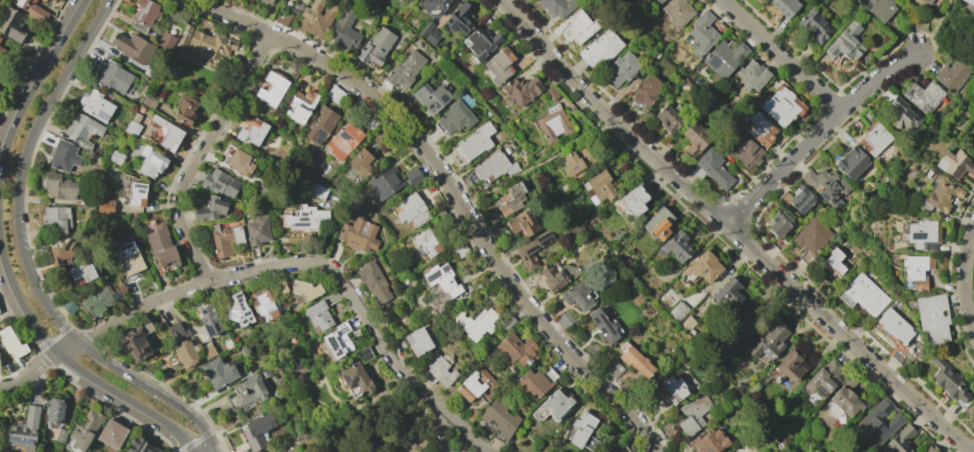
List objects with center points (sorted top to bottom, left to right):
building: (43, 0)
building: (280, 0)
building: (264, 1)
building: (659, 1)
building: (926, 1)
building: (966, 4)
building: (432, 6)
building: (557, 6)
building: (785, 6)
building: (879, 8)
building: (31, 9)
building: (677, 11)
building: (144, 14)
building: (282, 17)
building: (316, 17)
building: (459, 18)
building: (814, 24)
building: (11, 25)
road: (247, 25)
building: (919, 25)
building: (580, 26)
building: (424, 28)
building: (344, 29)
building: (701, 32)
building: (432, 36)
building: (0, 38)
building: (165, 40)
building: (481, 42)
building: (845, 42)
building: (204, 43)
building: (375, 46)
building: (133, 47)
building: (599, 48)
building: (1, 51)
building: (724, 57)
road: (780, 57)
building: (499, 65)
building: (621, 68)
building: (403, 70)
building: (953, 74)
building: (752, 75)
building: (114, 76)
building: (0, 81)
road: (37, 81)
building: (271, 88)
building: (521, 89)
building: (645, 89)
building: (552, 93)
building: (334, 94)
building: (923, 96)
building: (431, 97)
building: (149, 101)
building: (302, 105)
building: (781, 105)
building: (95, 106)
building: (185, 109)
building: (901, 113)
building: (457, 114)
building: (866, 115)
building: (669, 117)
road: (220, 119)
building: (320, 123)
building: (553, 123)
building: (132, 124)
building: (370, 125)
building: (757, 126)
building: (82, 129)
building: (251, 130)
building: (167, 134)
road: (819, 135)
building: (379, 136)
building: (844, 137)
building: (694, 138)
building: (874, 139)
building: (344, 140)
building: (473, 142)
building: (745, 151)
building: (63, 156)
road: (550, 156)
building: (115, 157)
building: (151, 162)
building: (239, 162)
building: (360, 162)
building: (852, 162)
building: (953, 164)
building: (573, 165)
building: (493, 166)
building: (713, 168)
building: (413, 176)
building: (219, 182)
building: (383, 184)
building: (826, 185)
building: (58, 186)
building: (598, 187)
building: (317, 191)
building: (136, 193)
building: (941, 195)
building: (510, 198)
building: (635, 199)
building: (801, 199)
building: (103, 207)
building: (211, 208)
building: (411, 210)
building: (304, 218)
building: (55, 220)
building: (523, 222)
building: (658, 223)
building: (779, 223)
building: (577, 228)
building: (257, 230)
road: (731, 230)
building: (358, 235)
building: (921, 235)
building: (225, 239)
building: (810, 240)
building: (426, 243)
road: (190, 245)
building: (160, 246)
building: (676, 246)
road: (485, 247)
building: (532, 249)
building: (459, 250)
building: (60, 251)
road: (23, 257)
building: (129, 259)
building: (836, 263)
building: (703, 267)
building: (916, 270)
building: (82, 271)
road: (238, 275)
building: (557, 275)
road: (962, 278)
building: (441, 279)
road: (342, 280)
building: (373, 281)
building: (281, 287)
building: (305, 289)
building: (728, 292)
building: (865, 294)
building: (579, 295)
road: (156, 299)
building: (97, 301)
building: (264, 302)
building: (68, 306)
building: (238, 310)
building: (678, 311)
building: (318, 315)
building: (932, 317)
building: (563, 319)
building: (209, 320)
building: (506, 320)
building: (475, 323)
building: (687, 323)
building: (746, 324)
building: (604, 325)
building: (175, 331)
building: (893, 331)
road: (94, 335)
building: (337, 340)
building: (419, 340)
building: (135, 341)
building: (769, 341)
building: (11, 344)
road: (68, 348)
building: (517, 350)
building: (188, 352)
building: (363, 353)
building: (634, 359)
road: (75, 366)
building: (790, 366)
building: (439, 369)
building: (613, 369)
building: (218, 372)
road: (30, 373)
building: (355, 378)
building: (821, 379)
building: (536, 381)
building: (949, 381)
building: (475, 384)
building: (675, 388)
building: (249, 389)
building: (846, 398)
road: (434, 401)
building: (552, 406)
building: (55, 410)
building: (693, 413)
building: (500, 418)
building: (875, 424)
building: (25, 429)
building: (257, 430)
building: (82, 431)
building: (583, 432)
building: (111, 434)
building: (61, 436)
building: (899, 440)
building: (709, 441)
road: (204, 443)
building: (139, 446)
building: (622, 449)
building: (929, 449)
building: (276, 451)
building: (277, 451)

